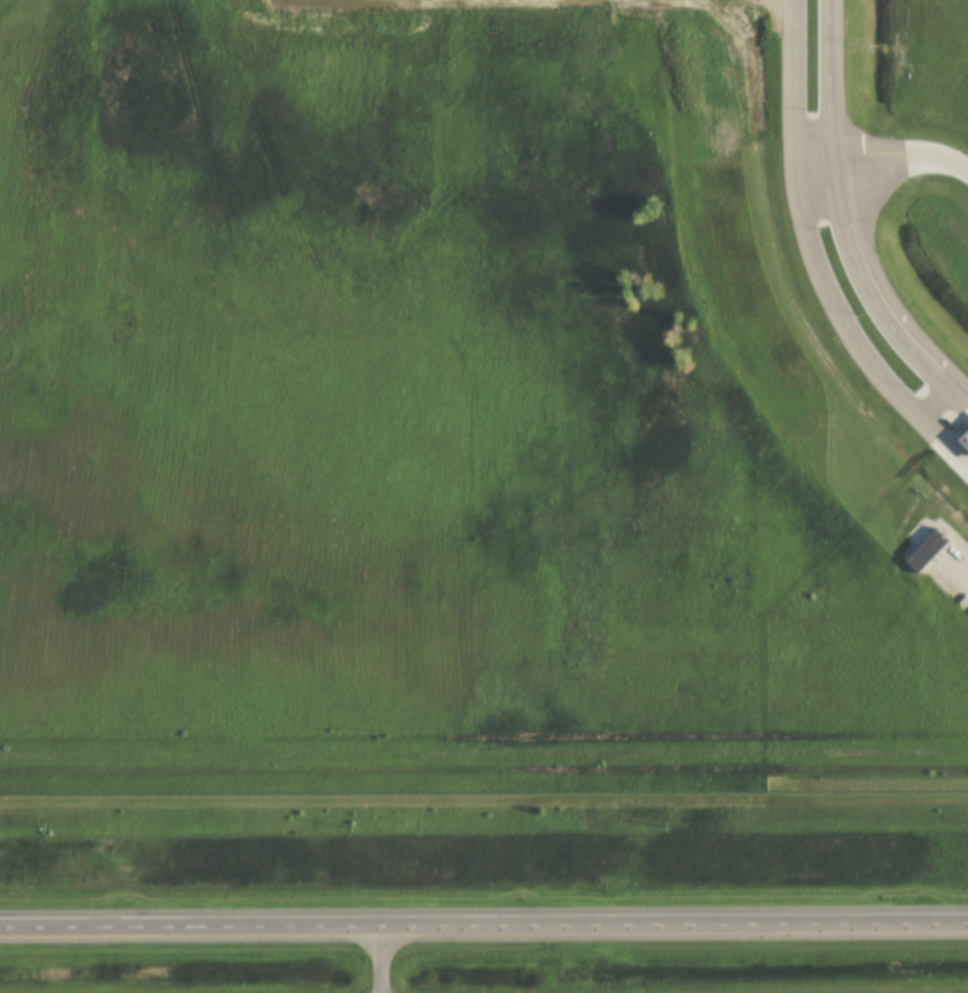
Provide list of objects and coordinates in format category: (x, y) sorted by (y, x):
airport: (908, 128)
road: (902, 154)
road: (847, 222)
road: (484, 911)

